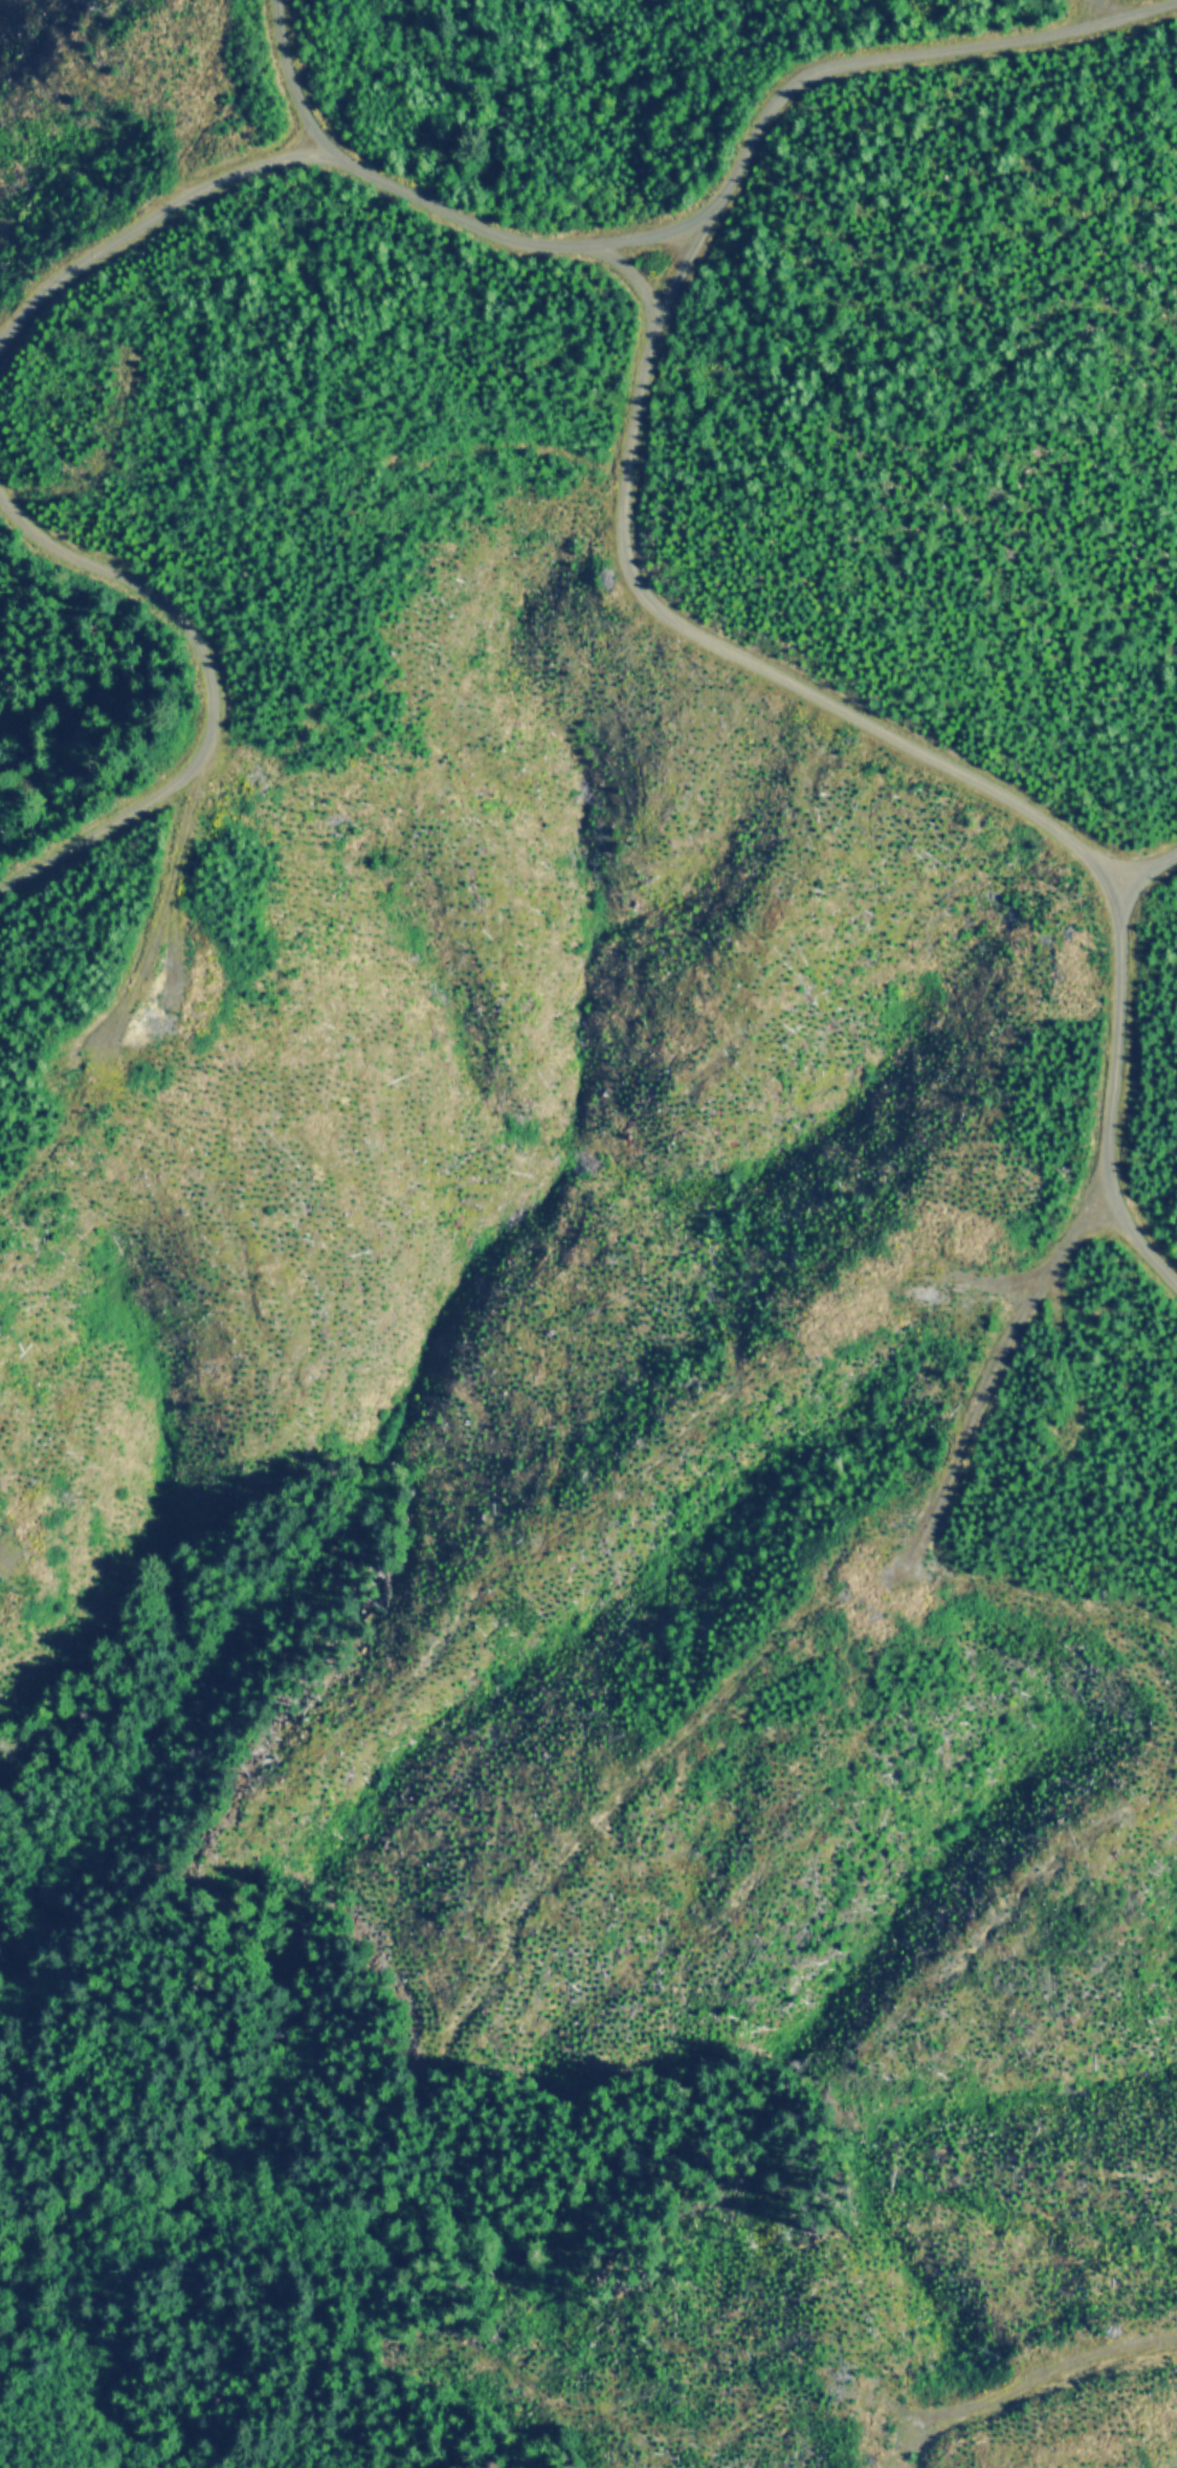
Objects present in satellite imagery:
road: (1084, 10)
road: (841, 60)
road: (424, 201)
road: (152, 237)
road: (612, 237)
road: (152, 697)
road: (958, 769)
road: (1146, 869)

